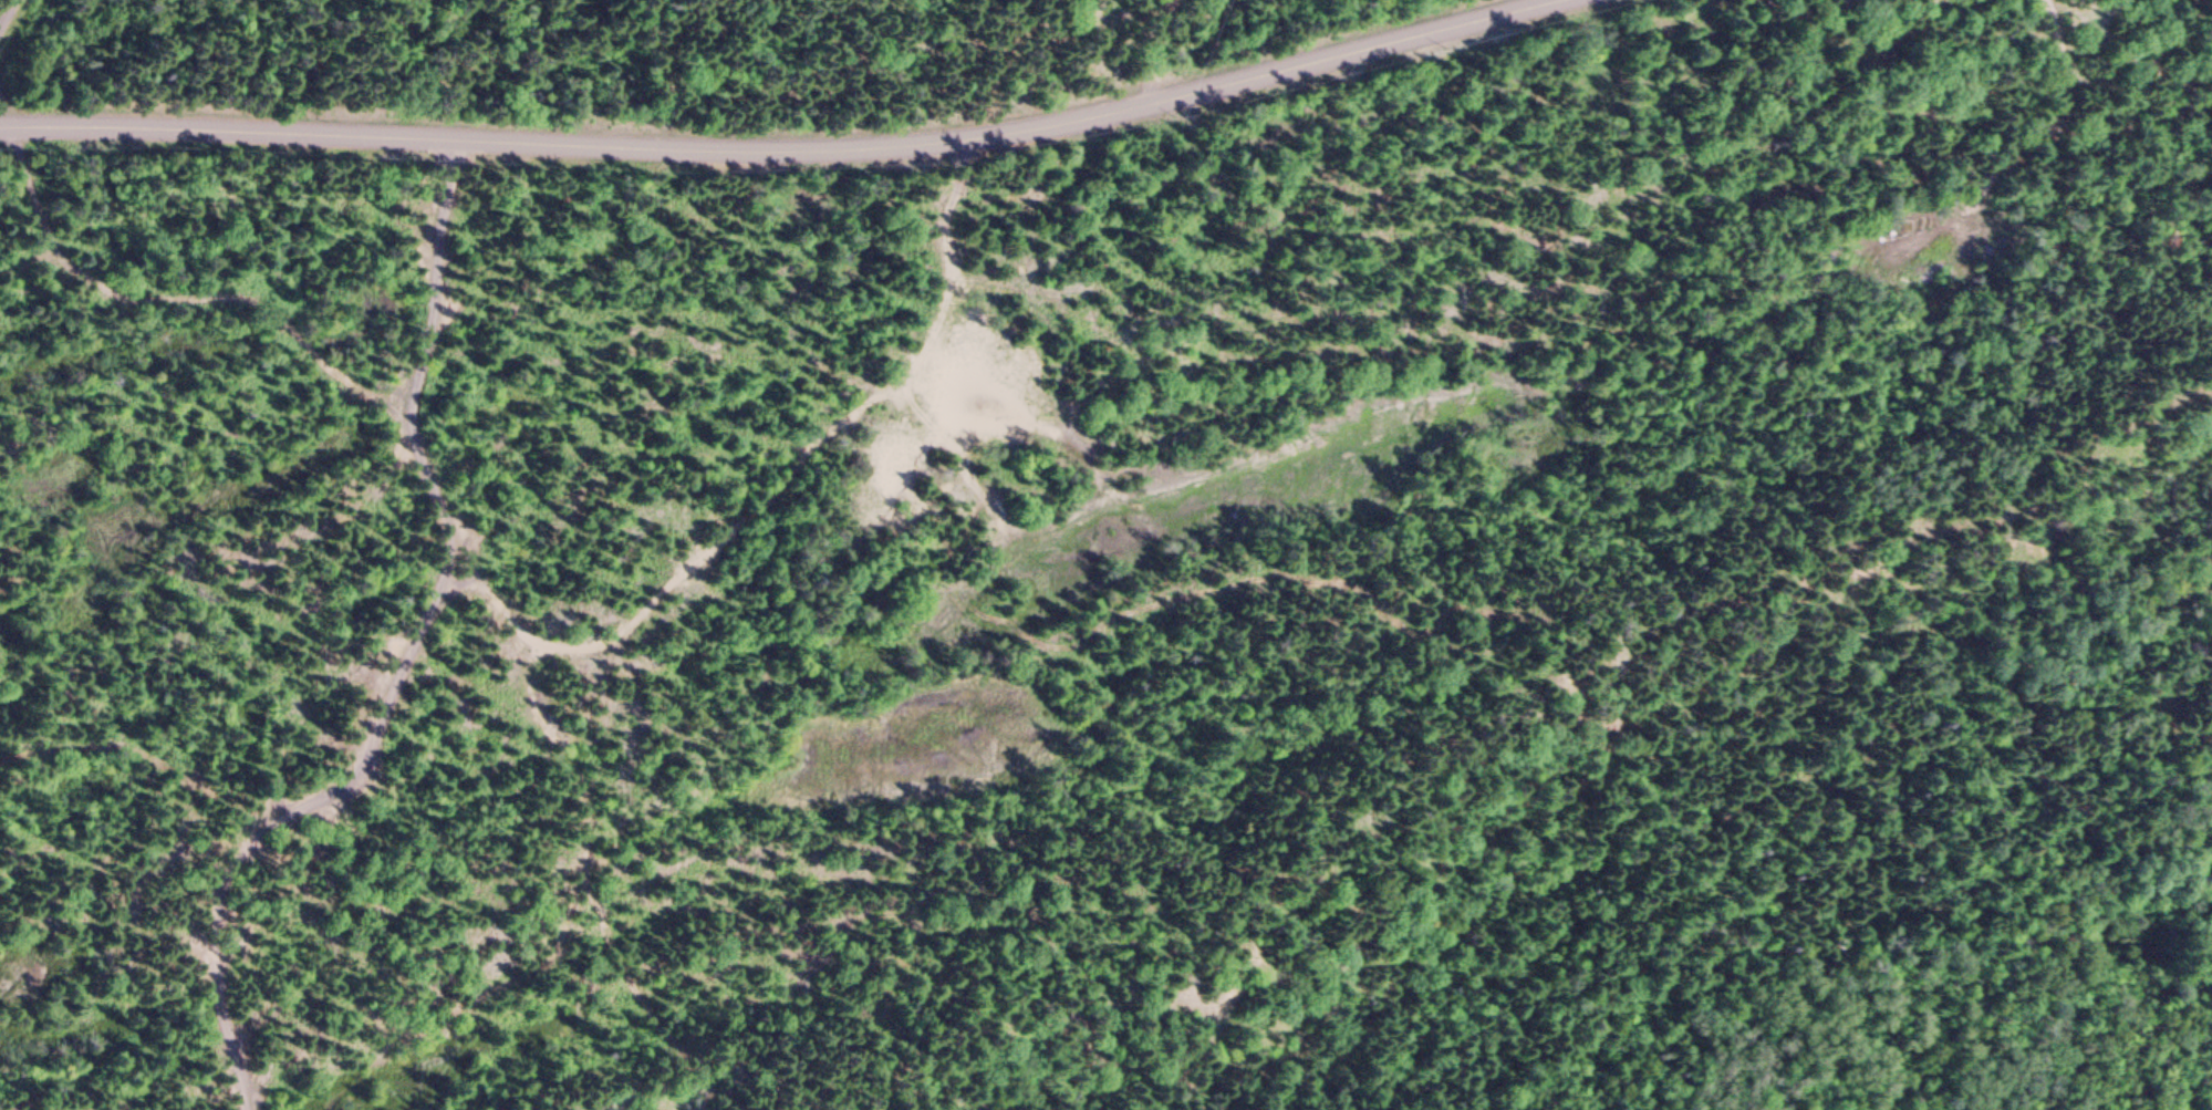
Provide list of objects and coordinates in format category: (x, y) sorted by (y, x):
road: (3, 7)
road: (785, 144)

